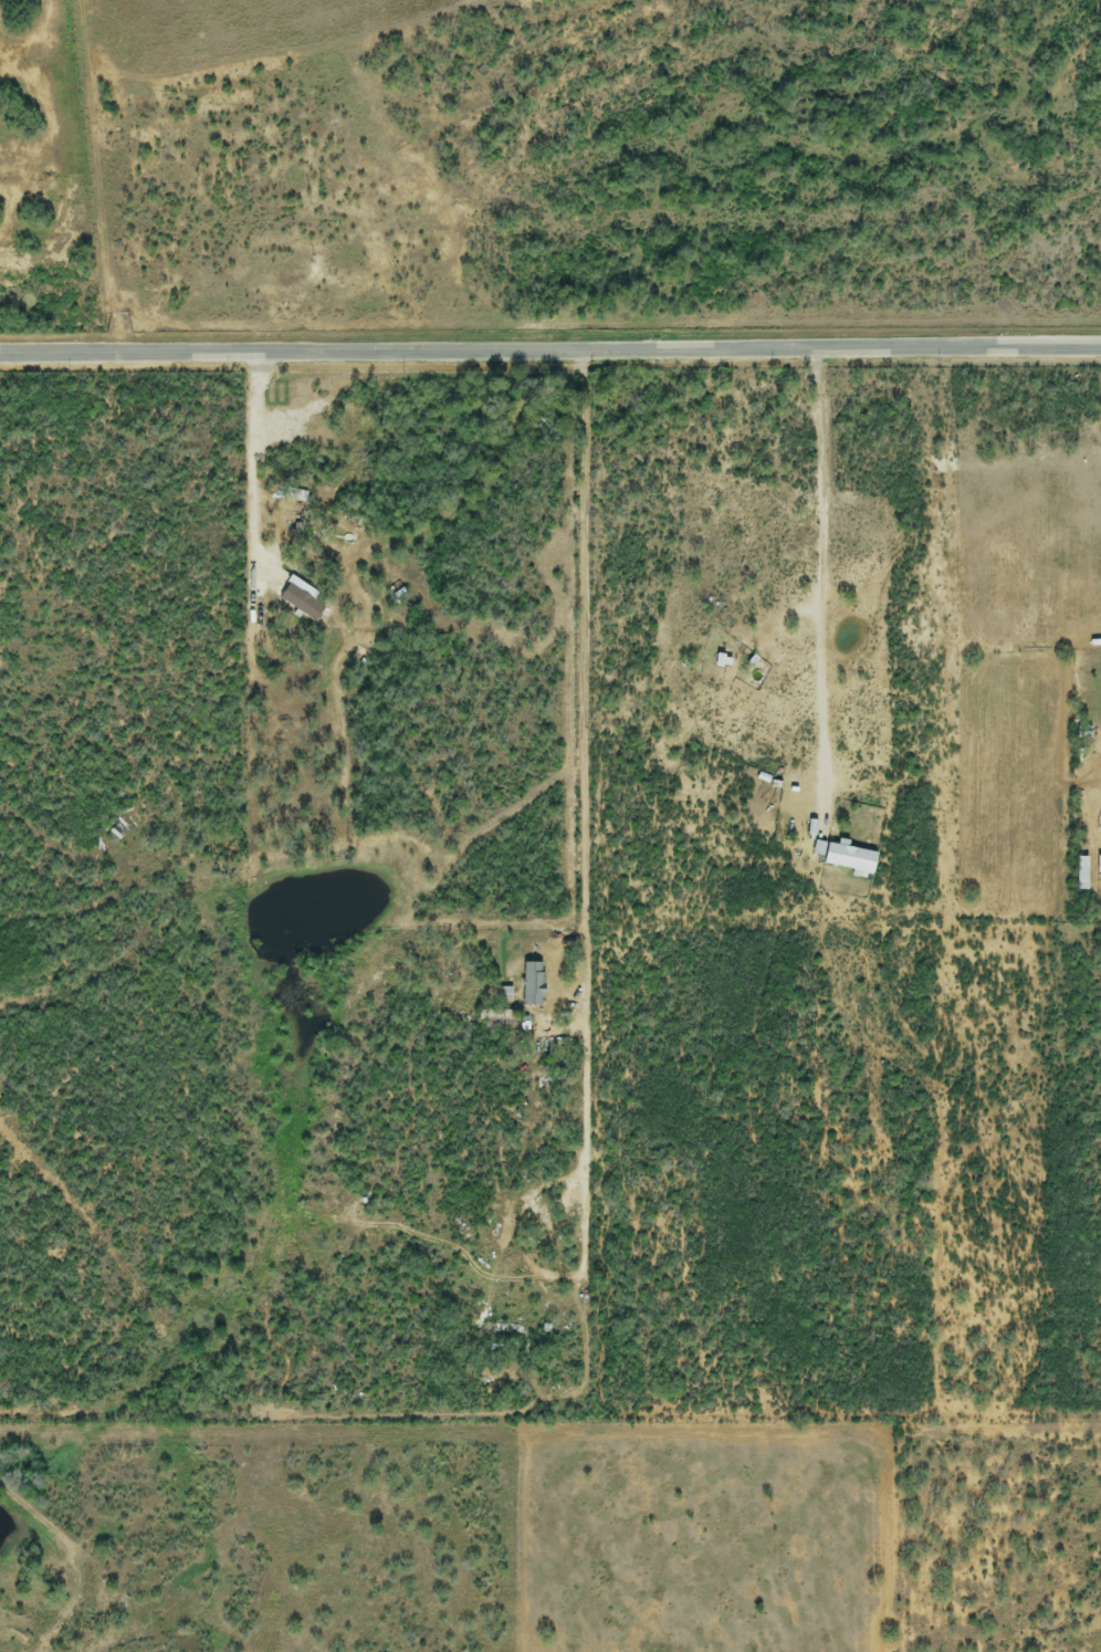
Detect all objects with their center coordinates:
road: (550, 348)
road: (252, 469)
road: (824, 575)
building: (302, 603)
road: (587, 812)

